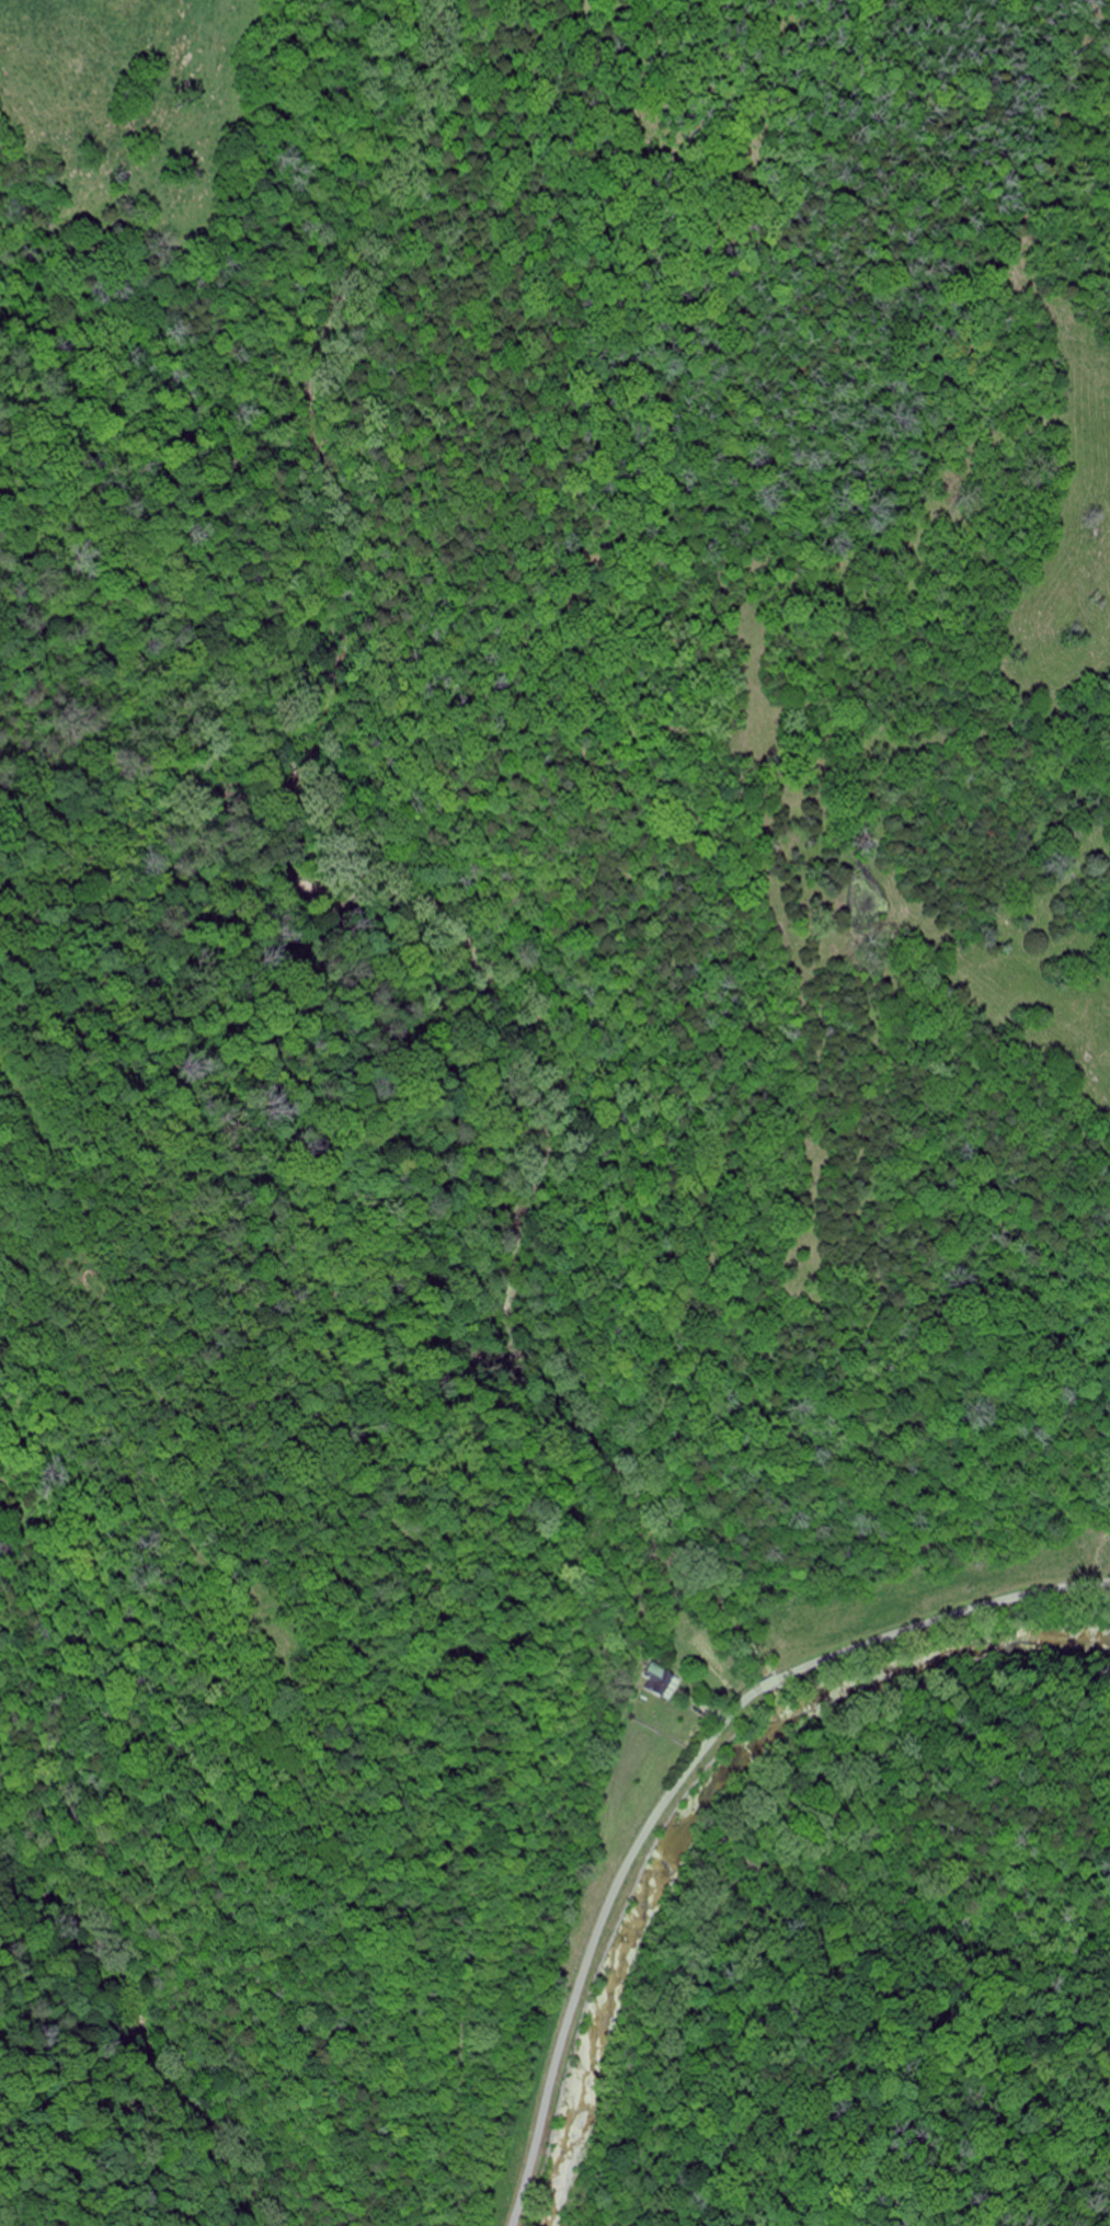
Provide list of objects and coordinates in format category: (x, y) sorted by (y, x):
road: (684, 1778)

